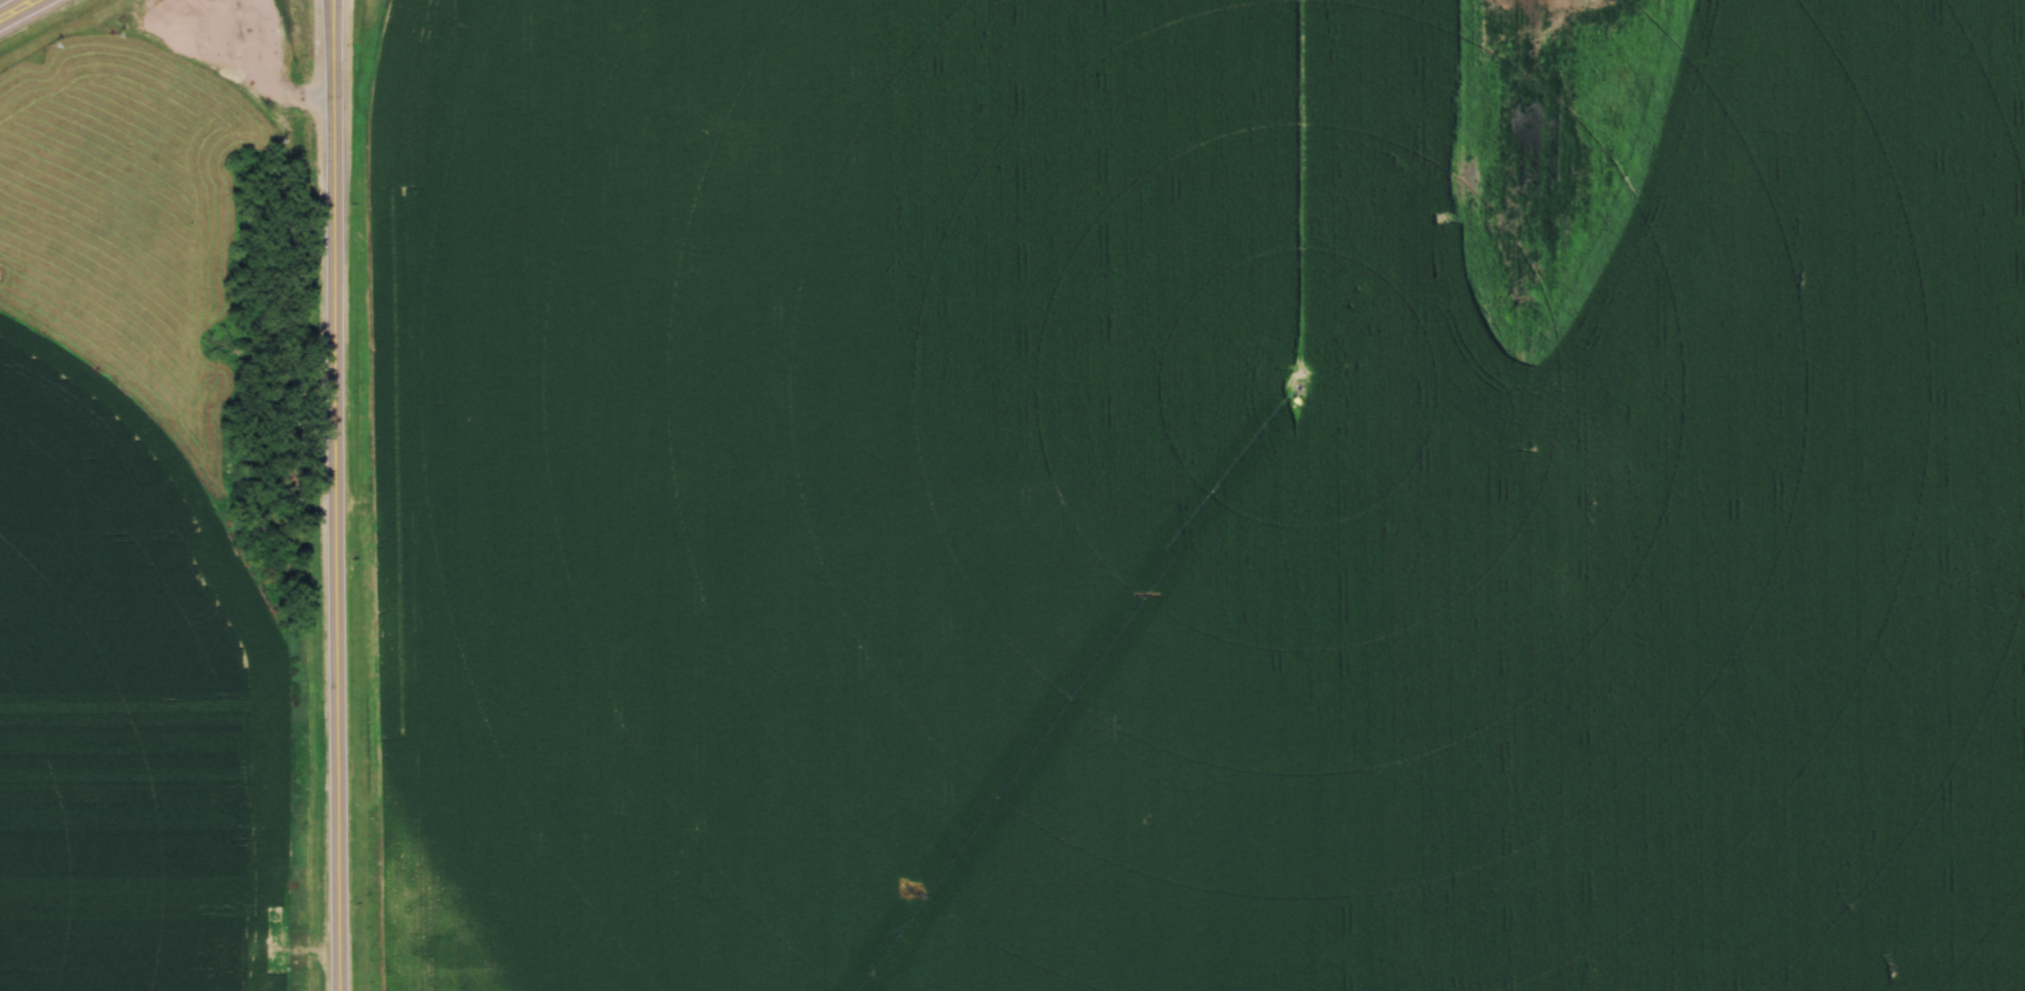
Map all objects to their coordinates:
road: (20, 11)
road: (336, 13)
road: (340, 13)
road: (341, 509)

